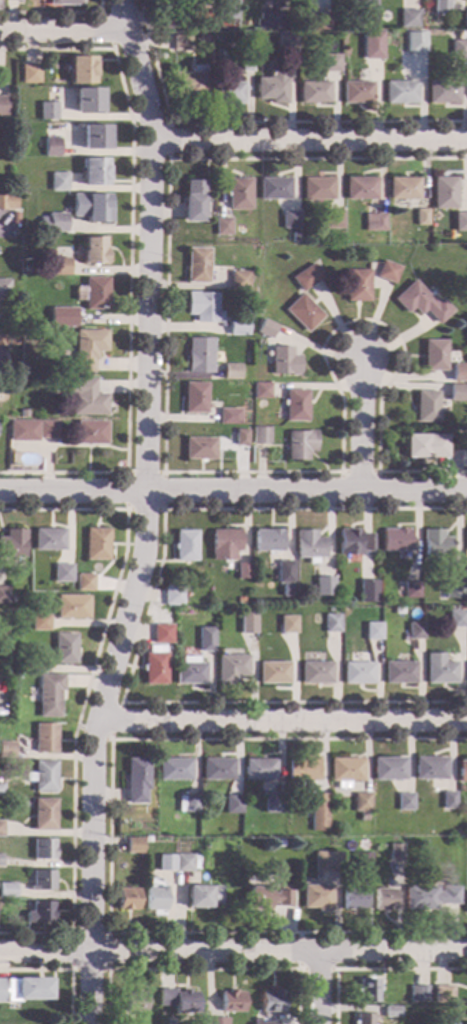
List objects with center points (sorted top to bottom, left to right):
building: (12, 0)
building: (64, 2)
building: (440, 7)
building: (365, 8)
building: (226, 9)
road: (56, 13)
building: (408, 18)
building: (166, 19)
building: (464, 19)
building: (269, 21)
building: (316, 21)
building: (184, 24)
road: (106, 31)
road: (61, 32)
building: (459, 36)
building: (202, 39)
building: (342, 40)
building: (414, 42)
building: (180, 43)
building: (284, 44)
building: (370, 44)
building: (457, 48)
building: (247, 52)
building: (200, 56)
building: (245, 63)
building: (329, 63)
building: (82, 70)
building: (30, 74)
building: (189, 82)
building: (272, 86)
building: (356, 92)
building: (399, 92)
building: (442, 92)
building: (227, 93)
building: (313, 93)
building: (87, 101)
building: (3, 106)
building: (47, 111)
road: (253, 123)
road: (167, 124)
building: (95, 137)
road: (310, 140)
building: (52, 147)
building: (95, 171)
building: (58, 182)
building: (274, 189)
building: (317, 189)
building: (360, 189)
building: (402, 189)
building: (443, 193)
building: (238, 194)
building: (193, 201)
building: (7, 202)
building: (96, 208)
building: (420, 217)
building: (14, 218)
building: (332, 219)
building: (289, 221)
building: (373, 222)
building: (460, 222)
building: (52, 223)
building: (222, 226)
building: (94, 251)
building: (196, 265)
building: (61, 267)
road: (129, 267)
building: (24, 270)
building: (387, 272)
building: (306, 277)
building: (238, 281)
building: (356, 285)
building: (4, 288)
building: (96, 293)
building: (420, 303)
building: (201, 307)
building: (302, 313)
building: (59, 317)
building: (234, 327)
building: (265, 329)
building: (2, 338)
building: (88, 349)
building: (199, 356)
building: (433, 356)
building: (283, 361)
building: (231, 372)
building: (459, 375)
building: (261, 391)
building: (457, 394)
building: (87, 398)
building: (194, 398)
building: (295, 405)
building: (425, 406)
building: (23, 413)
building: (227, 418)
road: (359, 425)
building: (48, 430)
building: (23, 431)
building: (91, 433)
building: (260, 435)
building: (240, 438)
building: (300, 445)
building: (463, 445)
building: (424, 446)
building: (199, 449)
building: (457, 459)
road: (171, 472)
road: (358, 472)
road: (163, 473)
road: (233, 492)
road: (144, 513)
building: (49, 539)
building: (466, 539)
building: (267, 540)
building: (395, 540)
building: (353, 542)
building: (13, 544)
building: (97, 544)
building: (225, 544)
building: (436, 544)
building: (308, 545)
building: (185, 546)
building: (243, 570)
building: (284, 572)
building: (63, 573)
building: (328, 575)
building: (85, 583)
building: (326, 589)
building: (453, 590)
building: (367, 591)
building: (408, 591)
building: (4, 595)
building: (173, 596)
building: (73, 607)
building: (456, 619)
building: (248, 622)
building: (40, 623)
building: (0, 624)
building: (331, 624)
building: (287, 625)
road: (142, 627)
building: (372, 631)
building: (415, 631)
building: (162, 634)
building: (206, 639)
building: (65, 648)
building: (185, 651)
building: (155, 666)
building: (466, 666)
building: (40, 667)
building: (231, 669)
building: (189, 672)
building: (273, 673)
building: (316, 673)
building: (357, 673)
building: (399, 673)
building: (441, 673)
road: (86, 693)
building: (50, 695)
road: (283, 720)
building: (46, 738)
road: (111, 738)
building: (7, 751)
building: (389, 768)
building: (430, 768)
building: (174, 769)
building: (217, 769)
building: (259, 769)
building: (303, 771)
building: (345, 771)
building: (462, 771)
building: (44, 776)
building: (137, 780)
building: (1, 790)
building: (449, 800)
building: (405, 802)
building: (188, 804)
building: (272, 804)
building: (362, 804)
building: (233, 805)
building: (318, 812)
building: (44, 814)
building: (2, 829)
road: (109, 837)
building: (279, 843)
building: (134, 845)
building: (44, 849)
building: (395, 853)
building: (1, 860)
building: (327, 862)
building: (166, 863)
building: (186, 863)
building: (364, 866)
building: (154, 873)
building: (43, 880)
building: (8, 891)
building: (204, 897)
building: (430, 897)
building: (267, 898)
building: (317, 898)
building: (128, 899)
building: (156, 899)
building: (353, 899)
building: (384, 900)
building: (466, 904)
building: (41, 912)
road: (233, 953)
road: (299, 969)
road: (373, 969)
road: (62, 970)
road: (106, 970)
road: (203, 970)
road: (319, 988)
building: (25, 989)
building: (369, 990)
building: (418, 993)
building: (443, 994)
building: (179, 1000)
building: (272, 1000)
building: (135, 1001)
building: (232, 1001)
building: (391, 1012)
building: (364, 1019)
building: (214, 1020)
building: (267, 1023)

